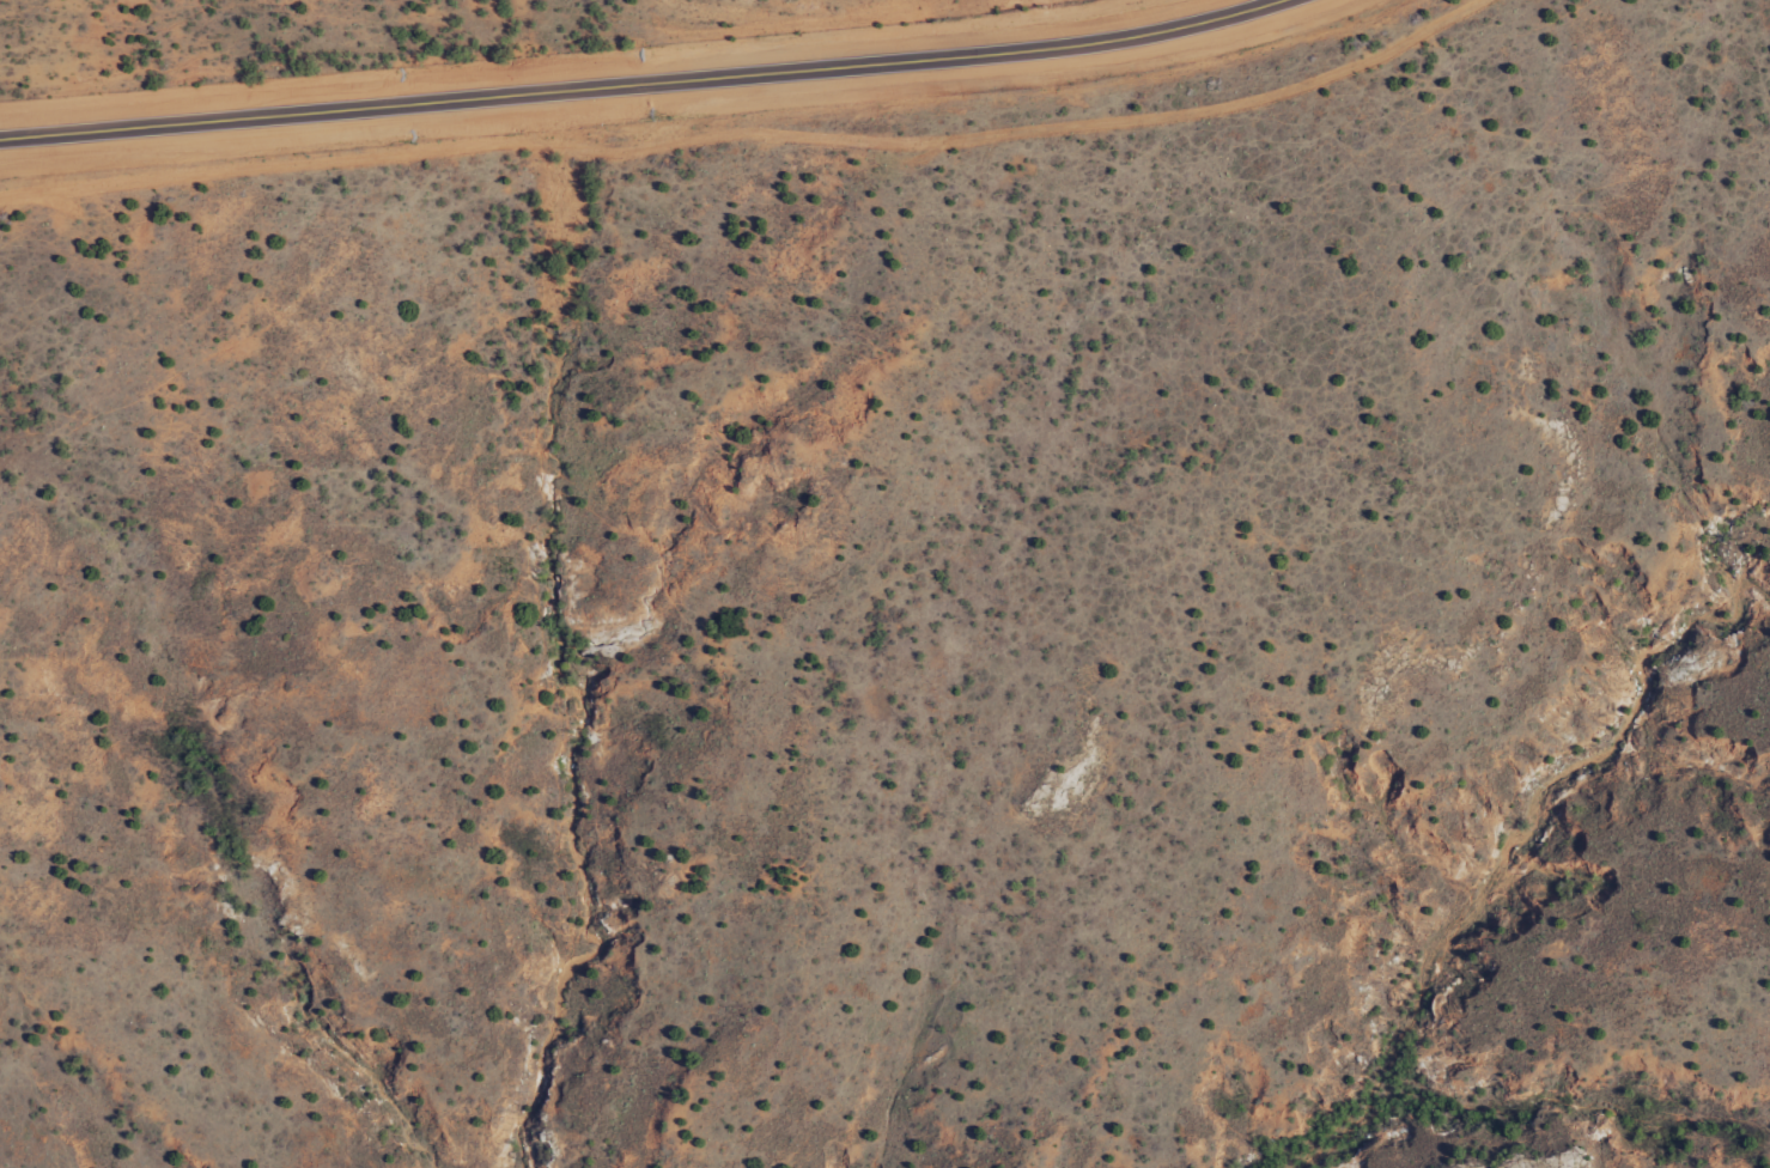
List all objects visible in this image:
road: (621, 86)
road: (772, 180)

